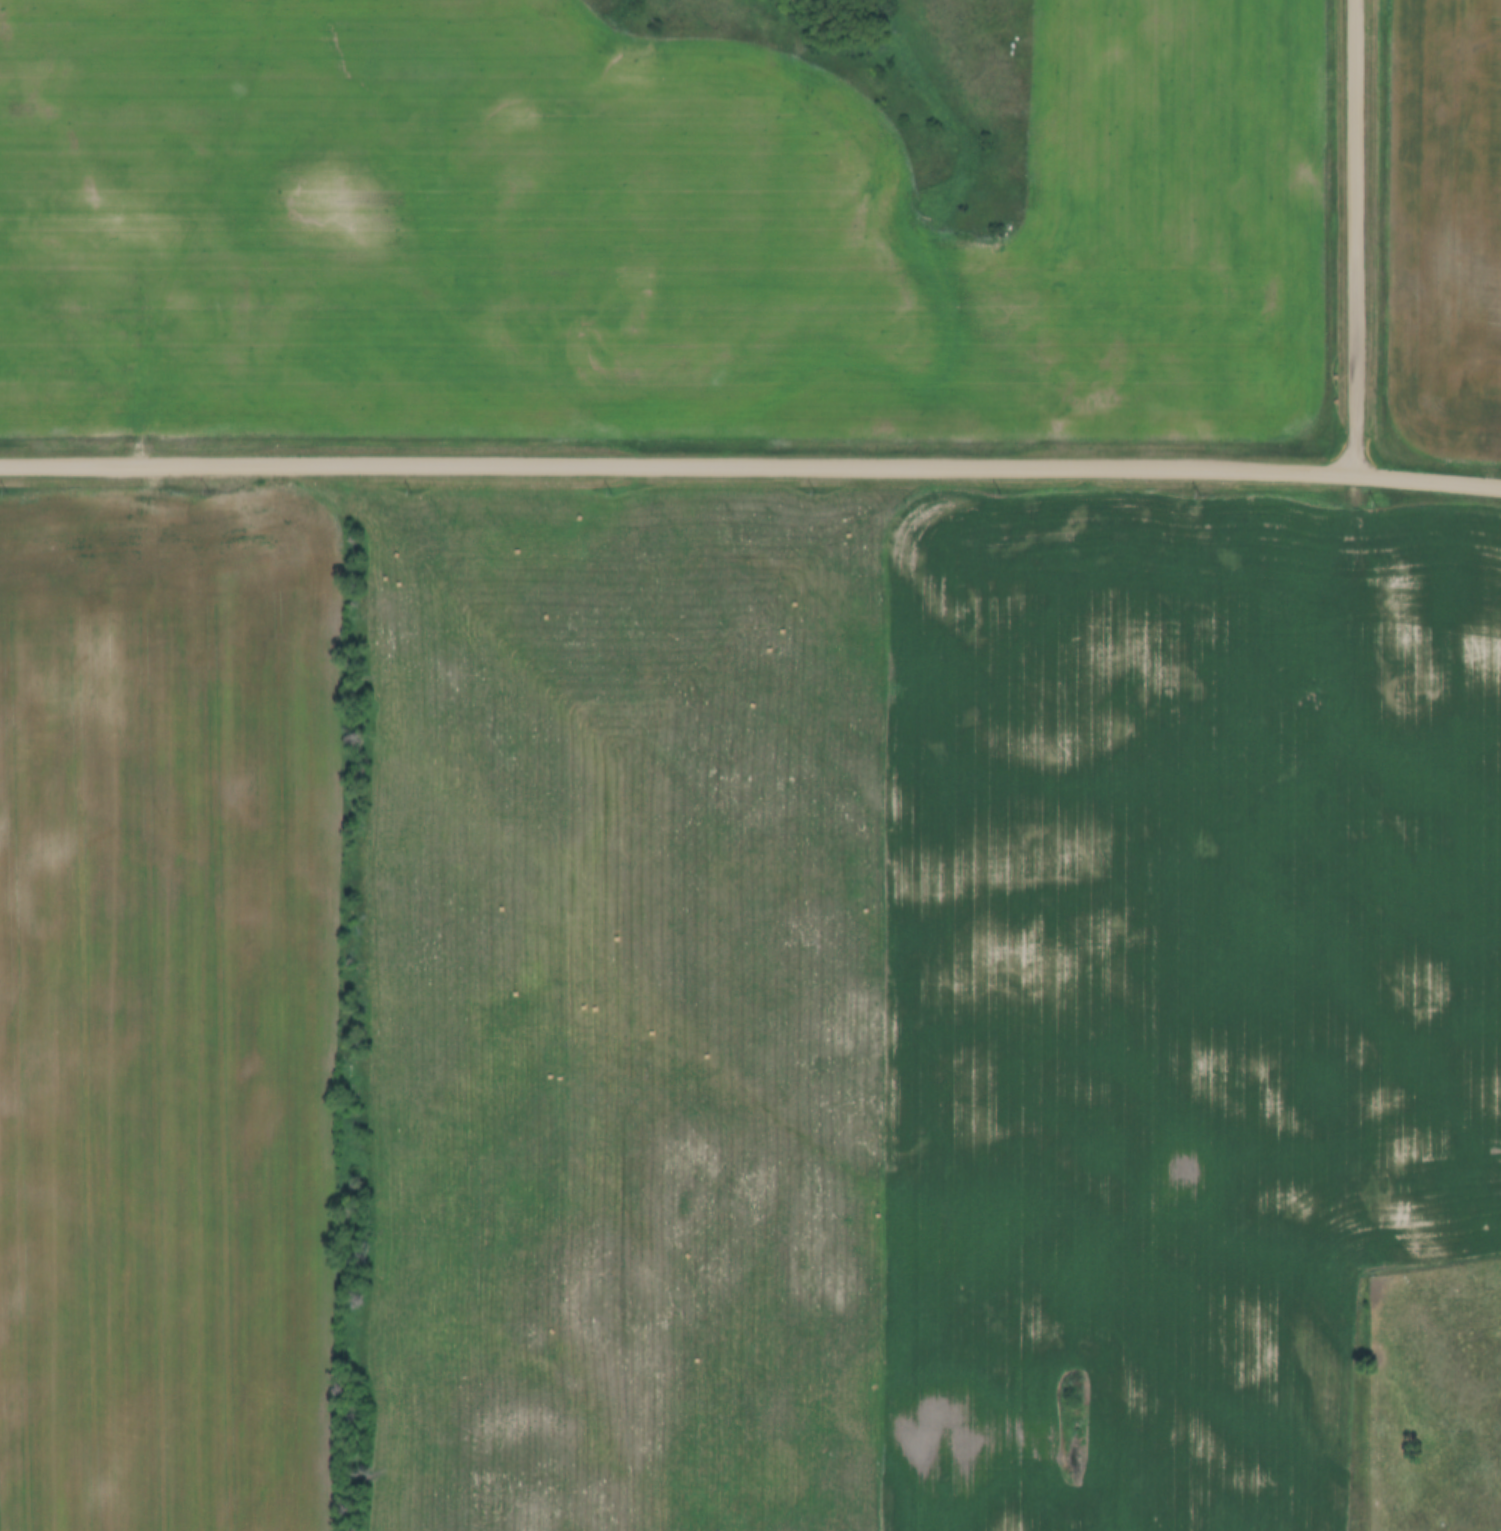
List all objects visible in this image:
road: (1355, 236)
road: (677, 464)
road: (1427, 479)

